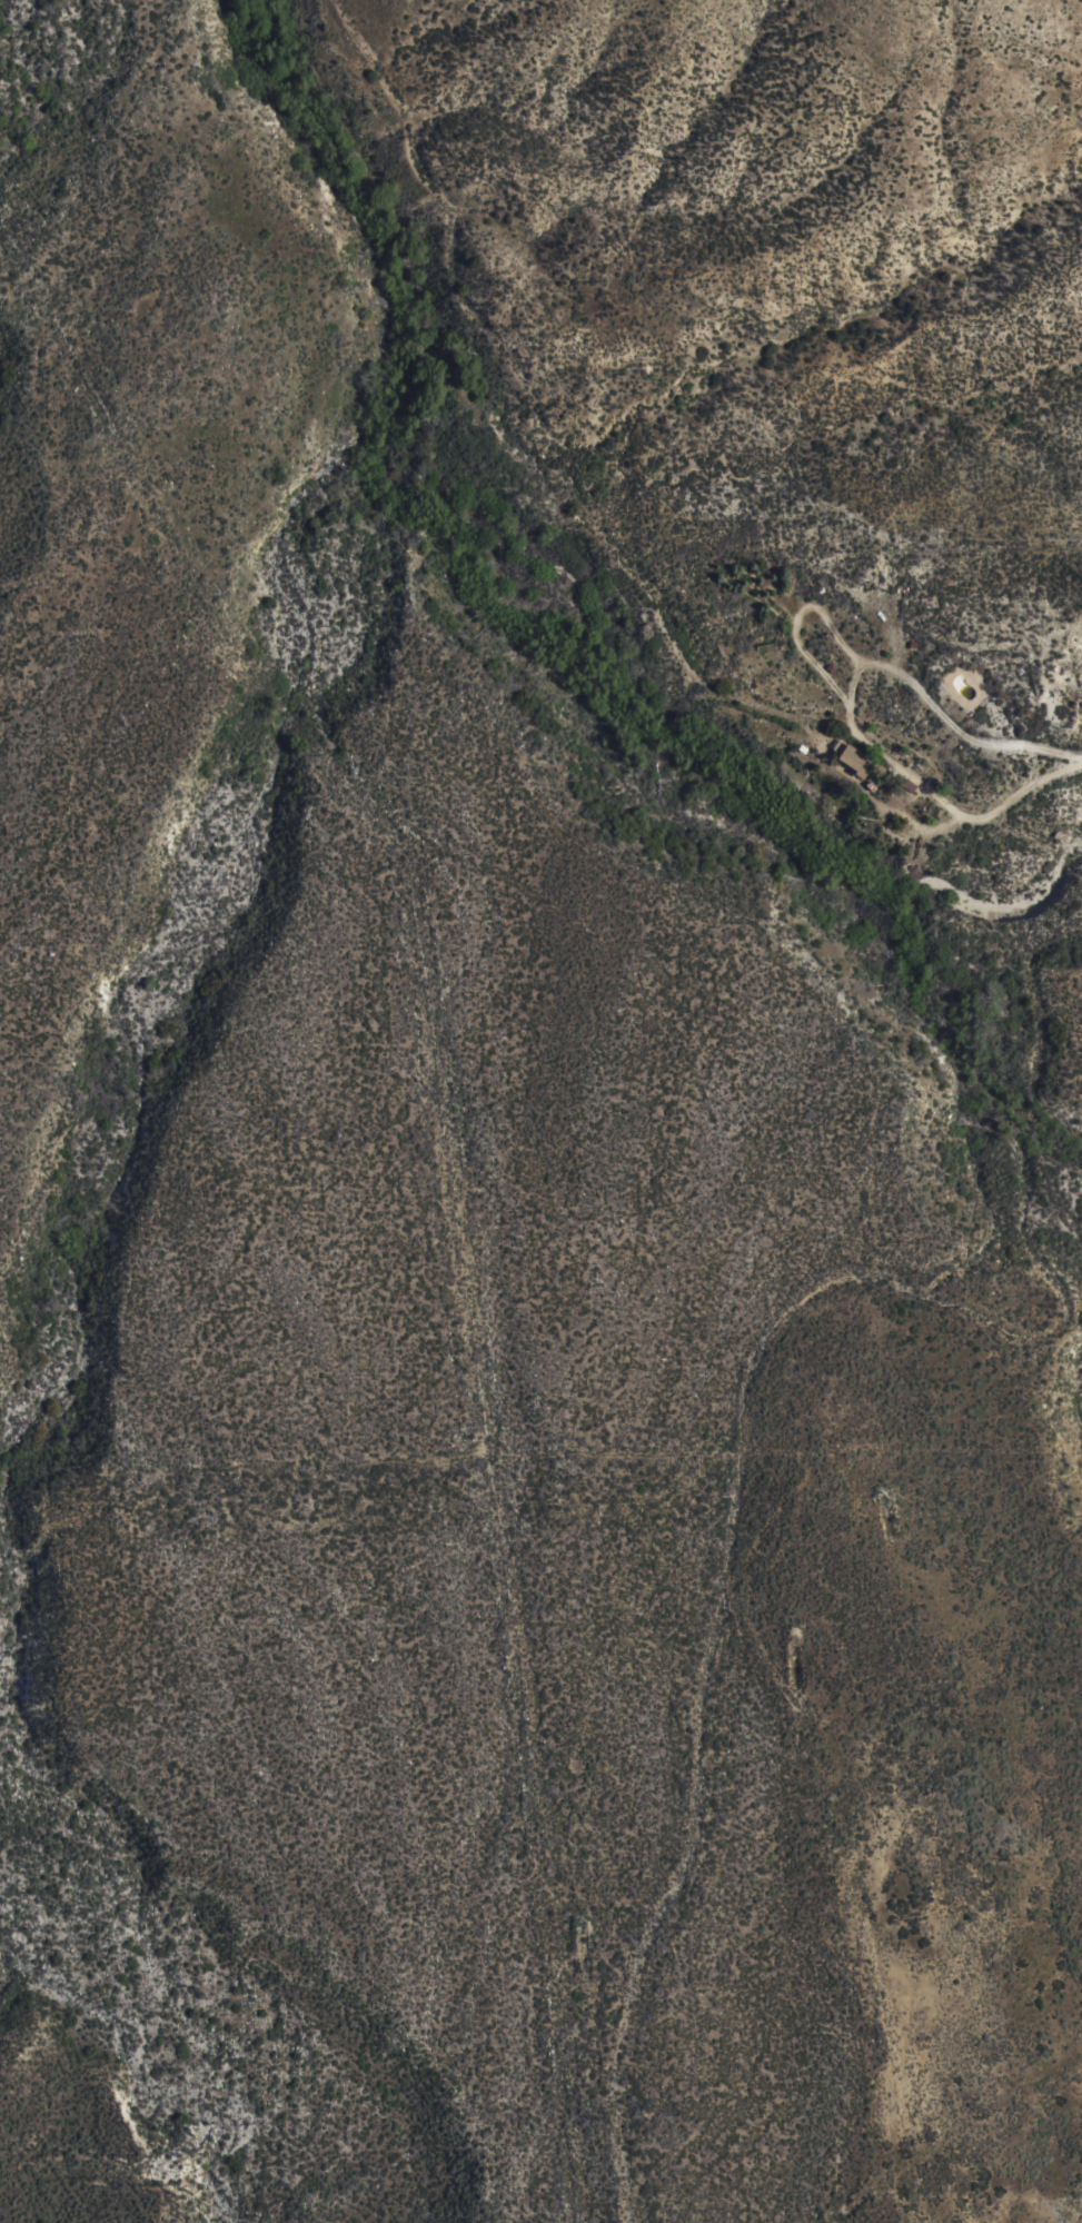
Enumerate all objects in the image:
road: (800, 617)
road: (851, 704)
building: (855, 753)
road: (902, 811)

